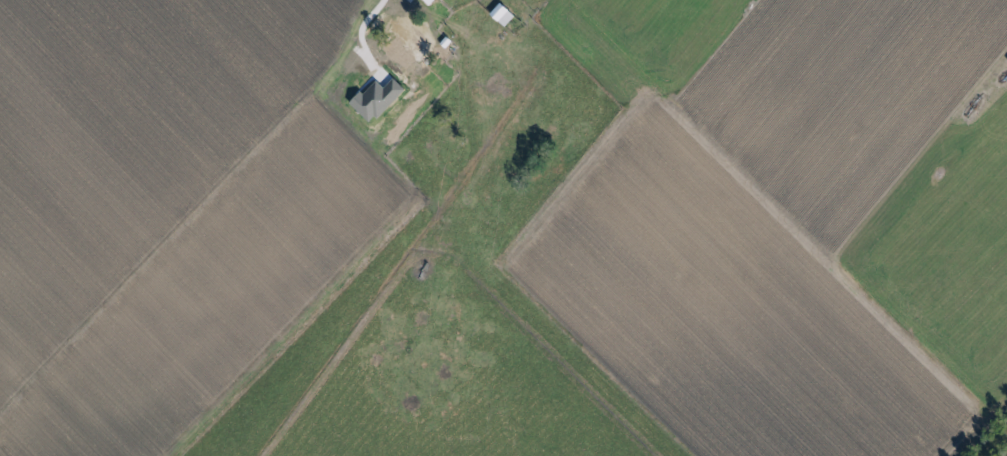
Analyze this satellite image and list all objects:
building: (428, 1)
building: (503, 14)
building: (416, 42)

